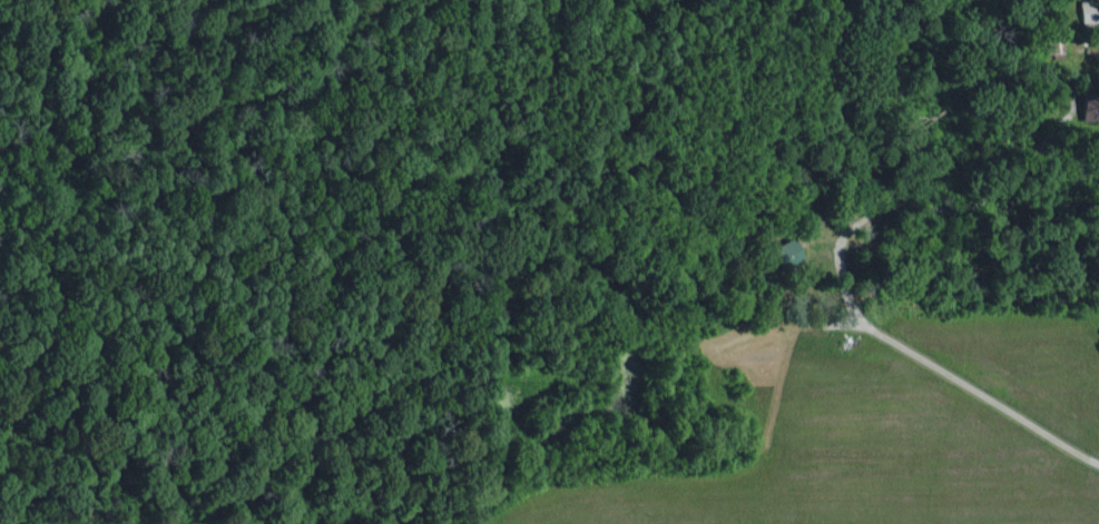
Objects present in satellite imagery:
building: (787, 251)

